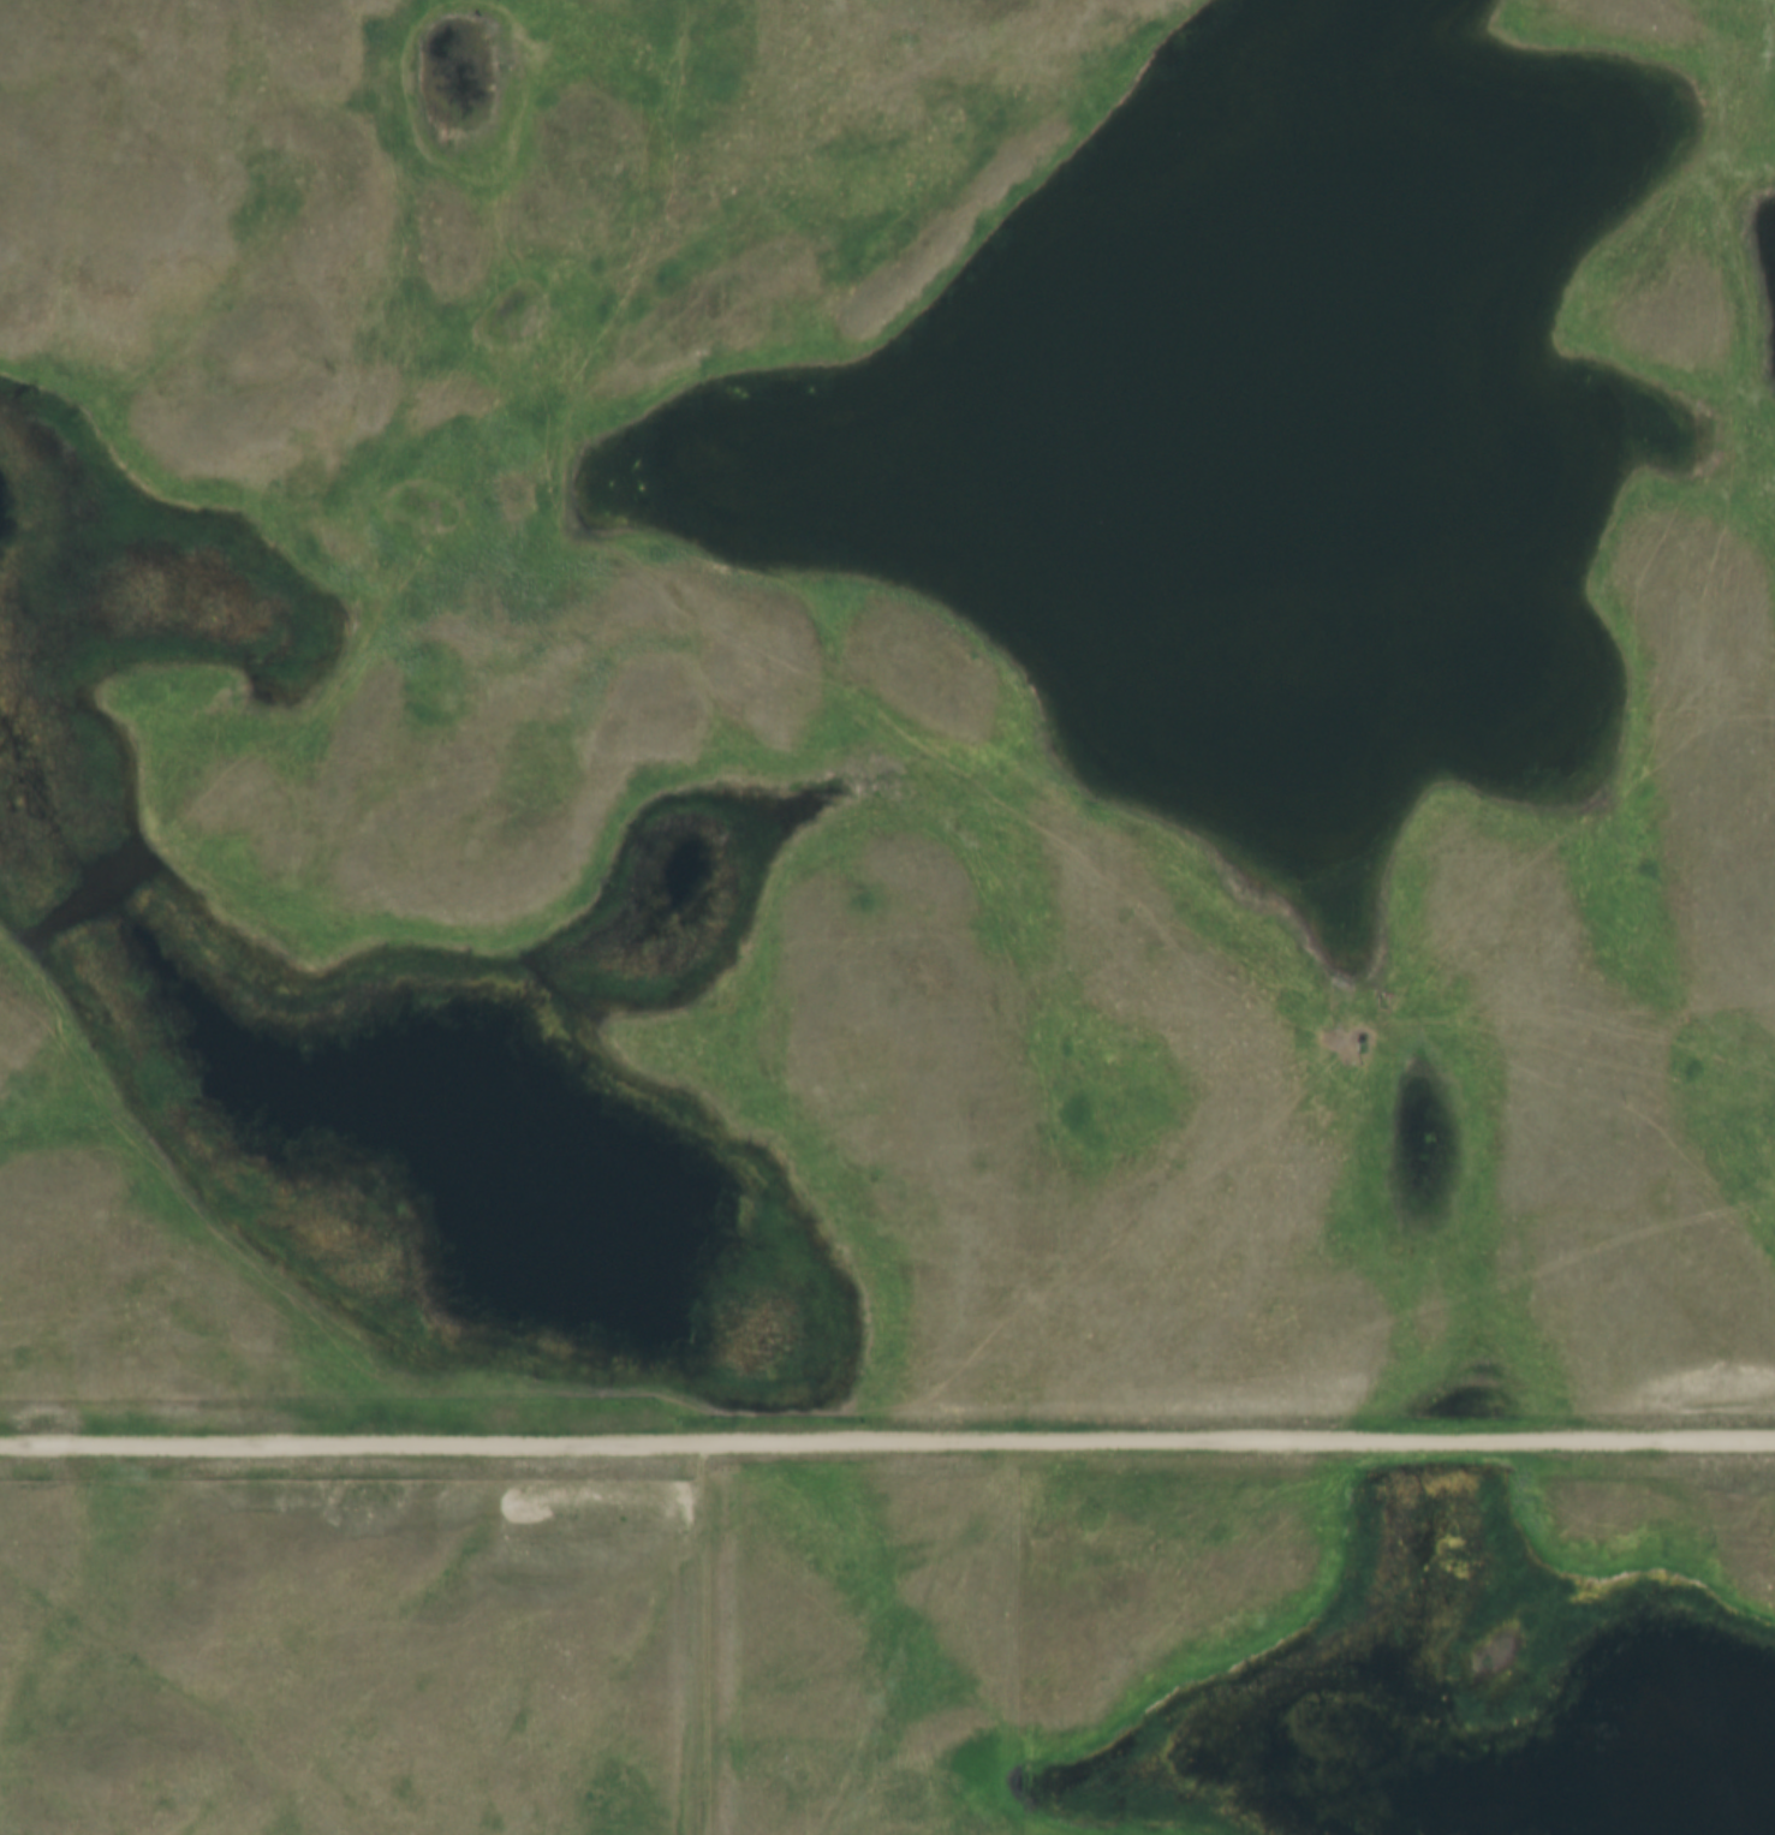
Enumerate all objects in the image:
road: (887, 1443)
road: (666, 1639)

